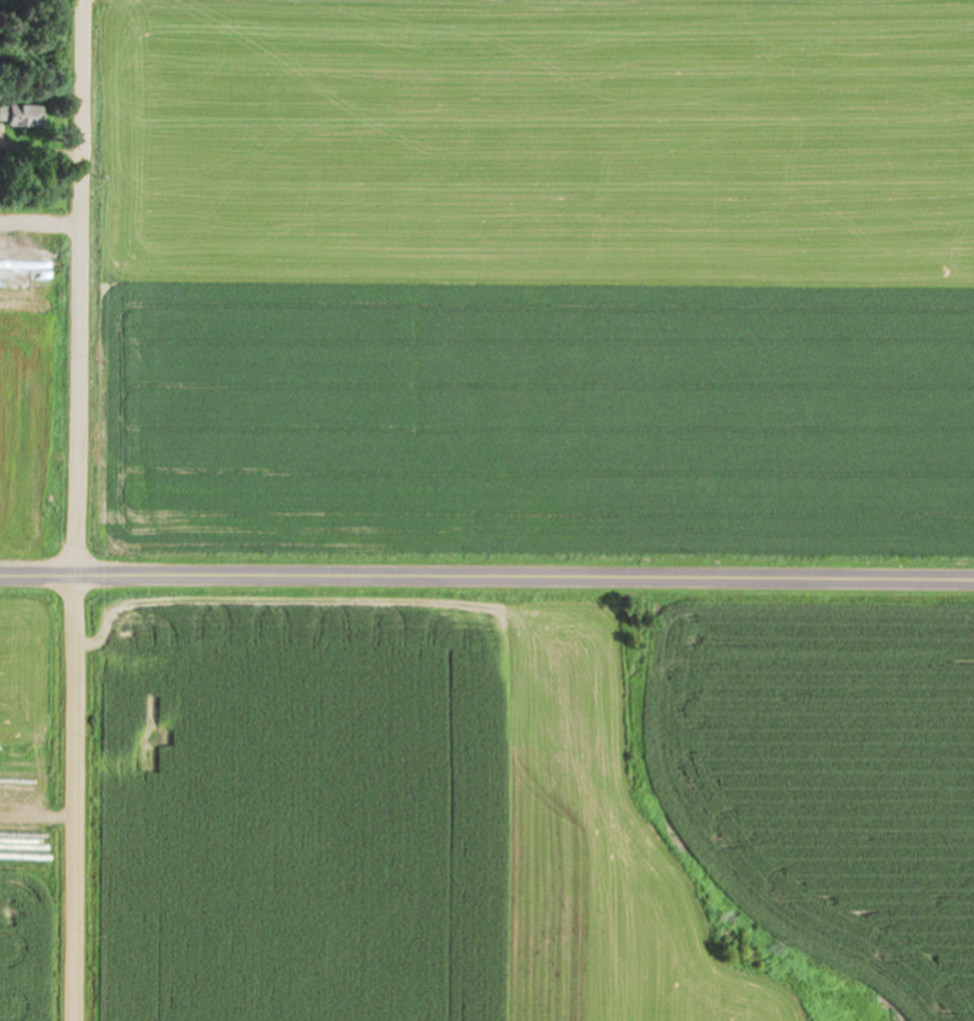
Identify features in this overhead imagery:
building: (20, 117)
road: (74, 510)
building: (17, 529)
road: (487, 577)
building: (12, 780)
building: (3, 814)

